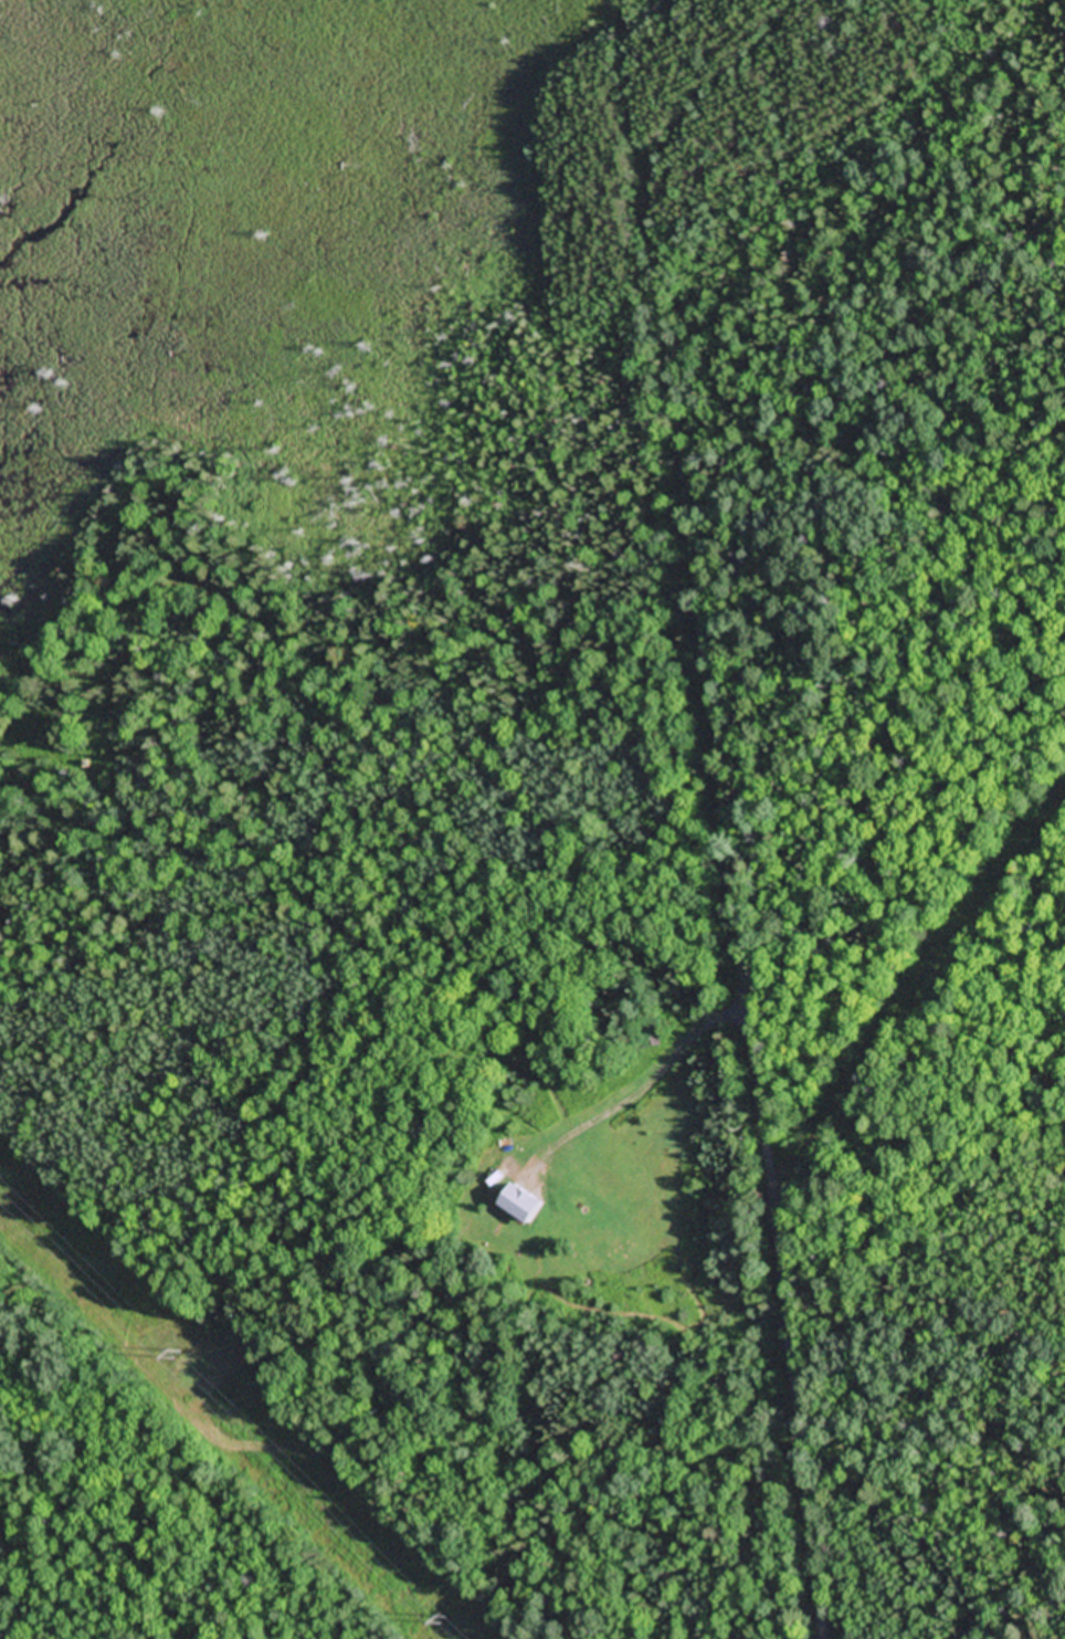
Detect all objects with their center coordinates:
power tower: (178, 1358)
road: (801, 1435)
power tower: (450, 1625)

